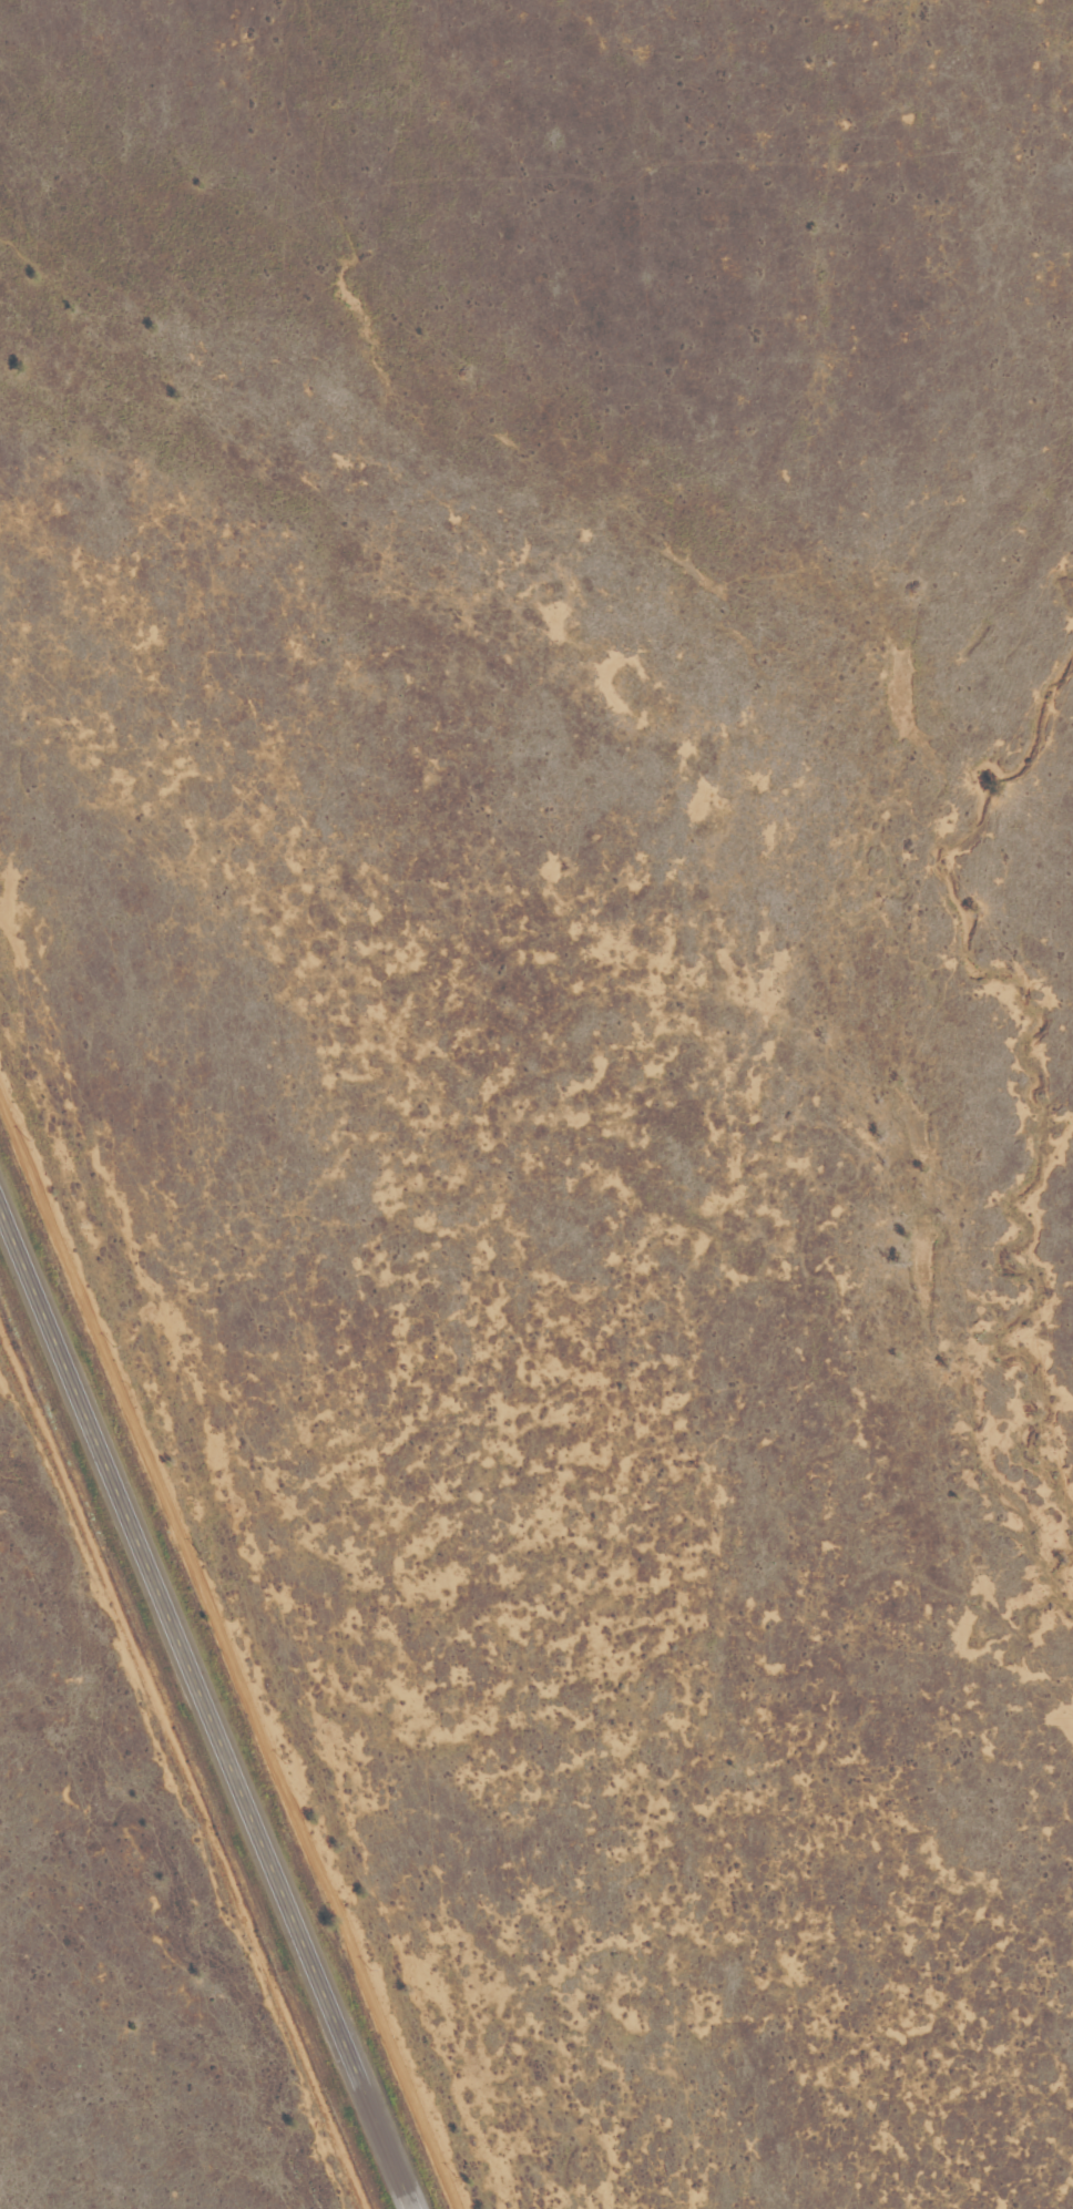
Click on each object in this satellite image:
road: (228, 1653)
road: (206, 1708)
road: (178, 1778)

